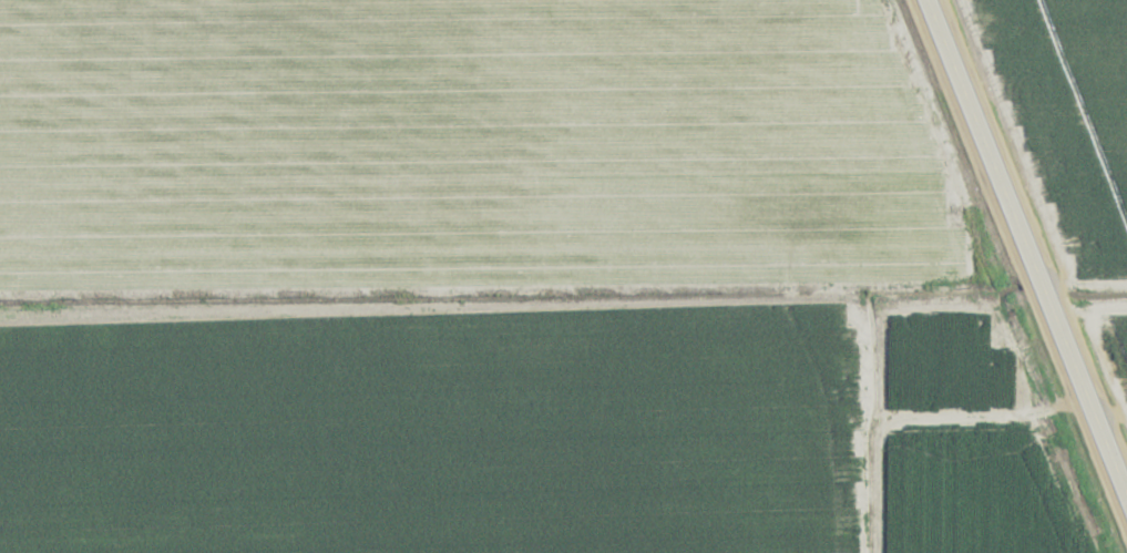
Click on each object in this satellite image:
road: (1025, 252)
road: (1107, 409)

